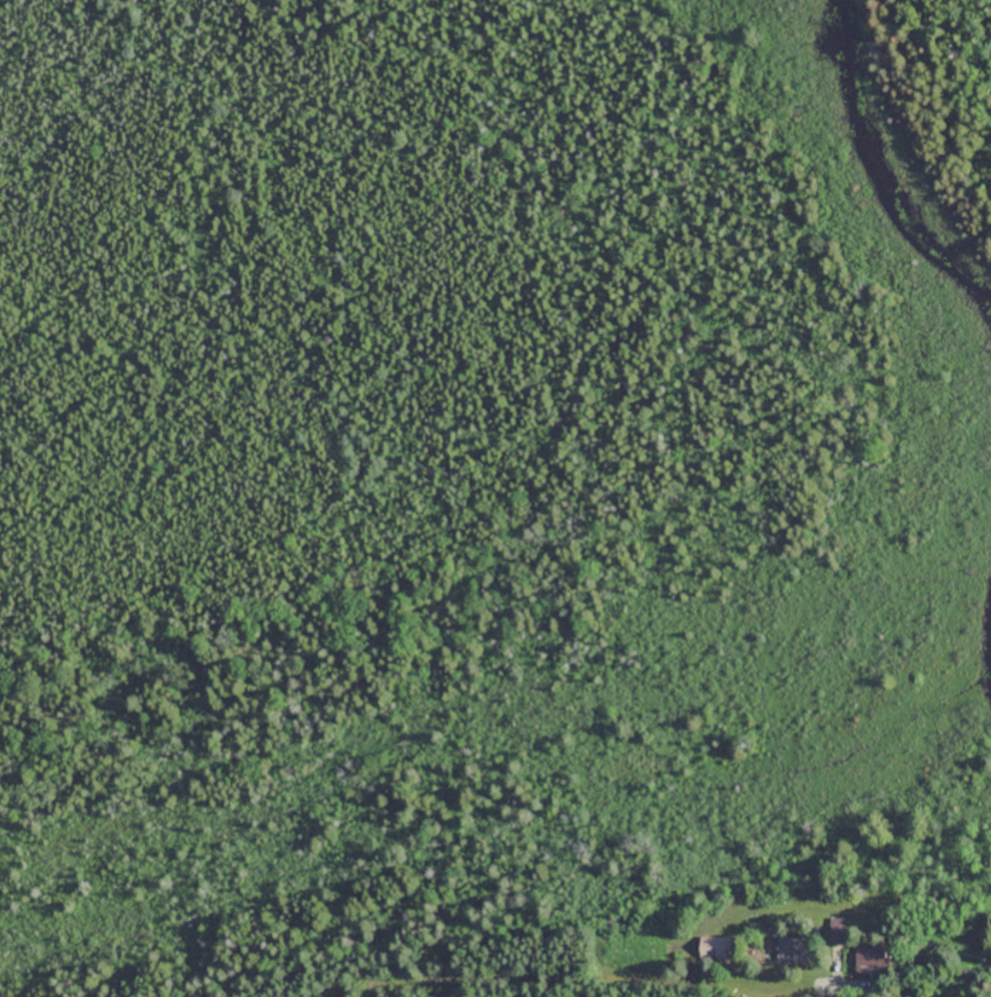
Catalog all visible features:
river: (874, 179)
building: (714, 946)
building: (794, 947)
building: (870, 954)
road: (830, 990)

